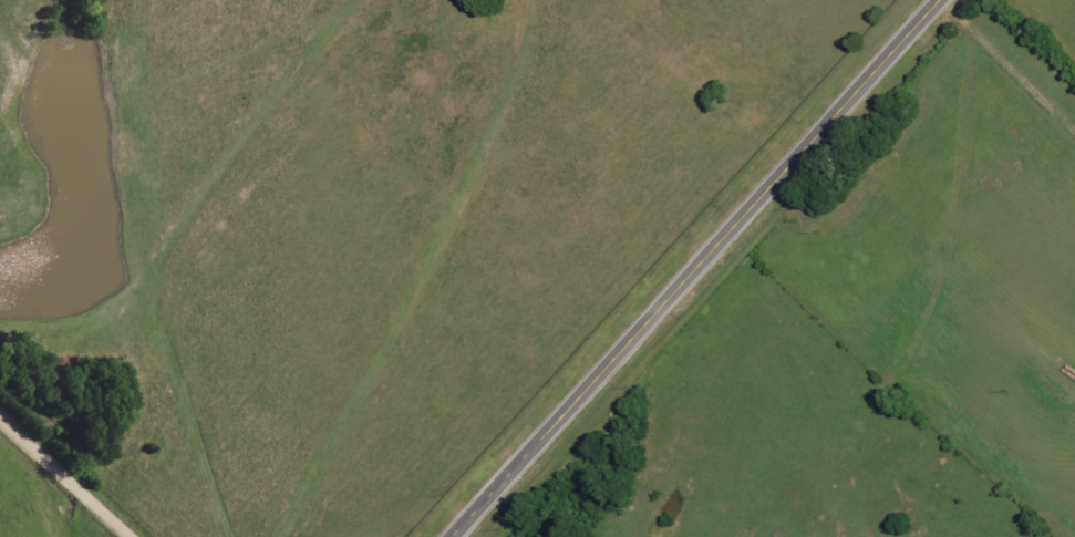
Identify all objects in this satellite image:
road: (697, 270)
road: (387, 277)
road: (68, 473)

